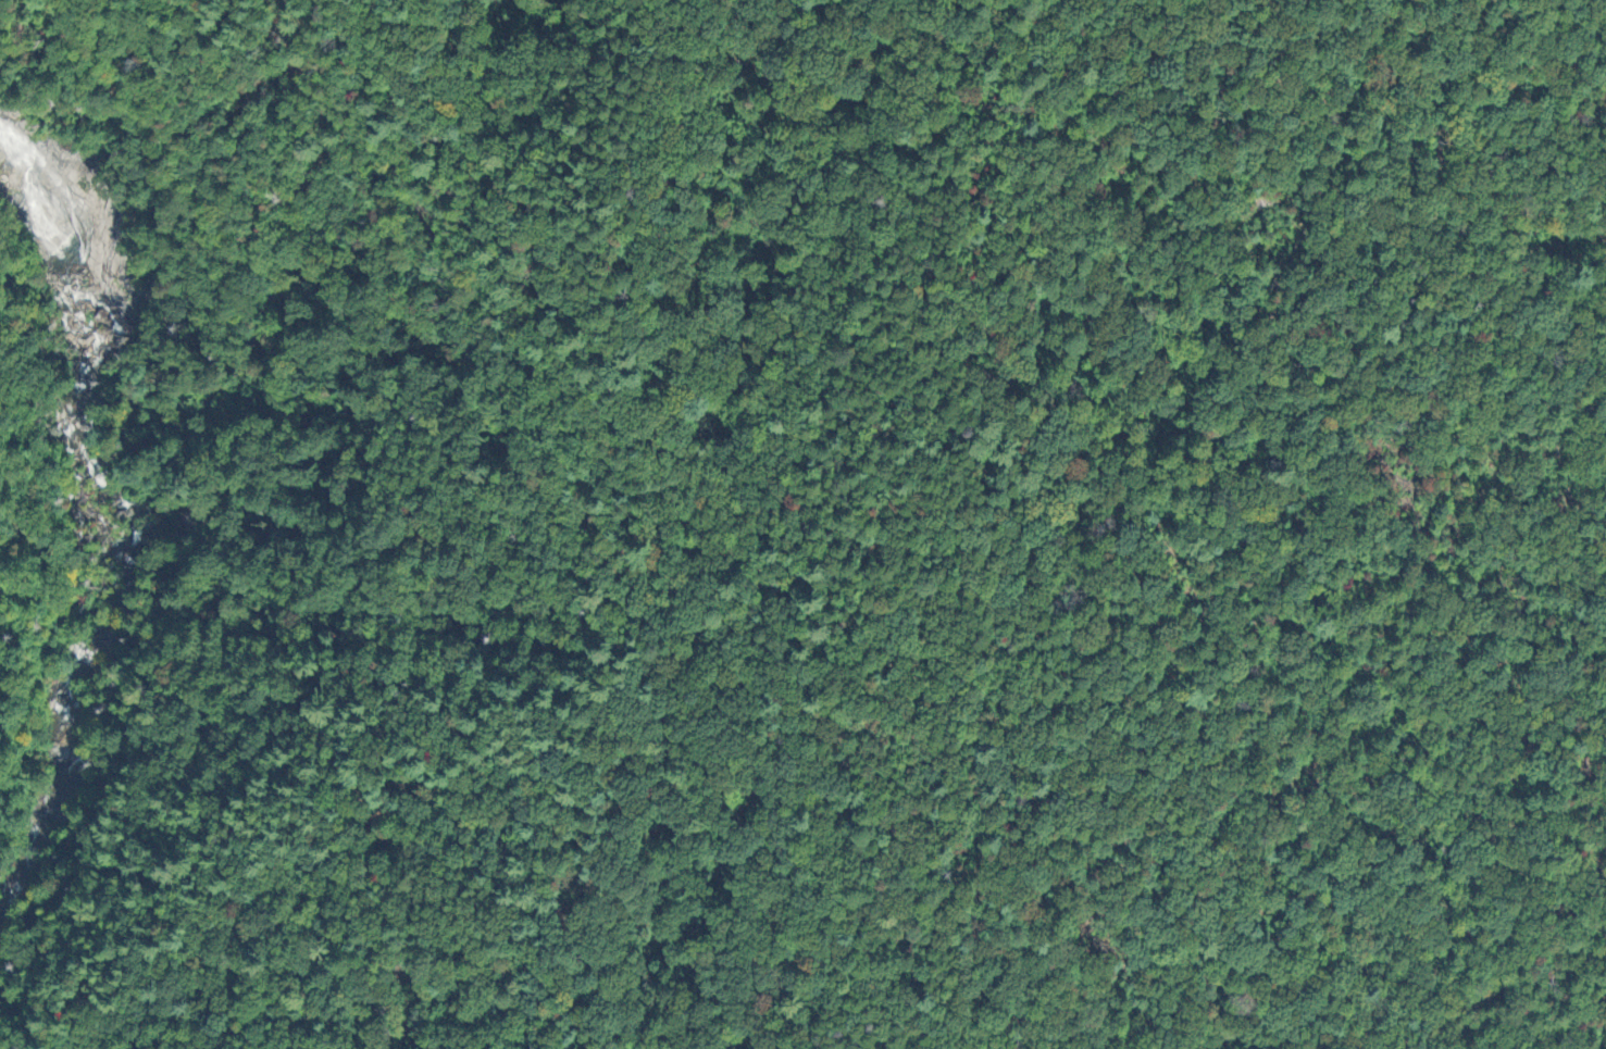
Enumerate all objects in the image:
road: (67, 360)
river: (97, 515)
road: (1337, 856)

